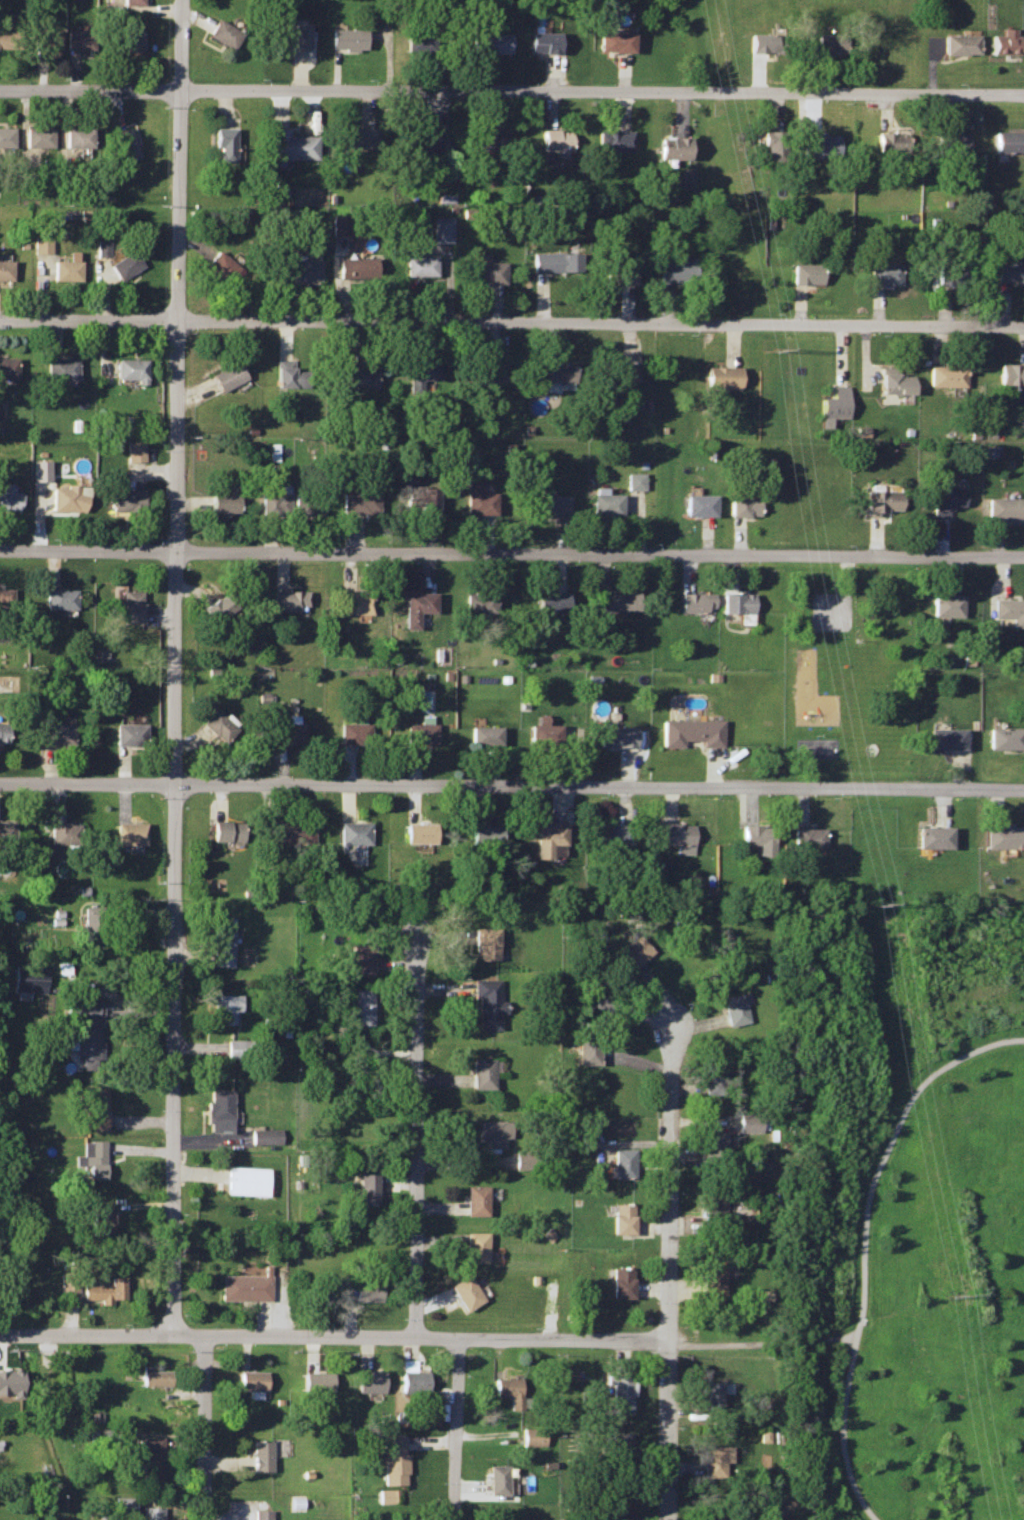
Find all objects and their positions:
building: (134, 2)
building: (1023, 6)
building: (225, 34)
building: (295, 35)
building: (10, 39)
building: (46, 39)
building: (79, 39)
building: (129, 39)
building: (349, 39)
building: (421, 40)
building: (546, 42)
building: (616, 42)
building: (1006, 42)
building: (492, 43)
building: (761, 43)
building: (830, 43)
building: (961, 45)
road: (512, 89)
building: (39, 136)
building: (79, 136)
building: (361, 136)
building: (6, 137)
building: (491, 137)
building: (425, 138)
building: (556, 140)
building: (616, 140)
building: (891, 140)
building: (1009, 140)
building: (125, 143)
building: (225, 143)
building: (952, 143)
building: (292, 145)
building: (773, 145)
building: (819, 145)
building: (674, 147)
building: (340, 224)
building: (442, 229)
building: (42, 245)
building: (102, 247)
building: (556, 262)
building: (126, 264)
building: (222, 264)
building: (421, 266)
building: (358, 267)
building: (68, 268)
building: (5, 269)
building: (1010, 269)
building: (305, 270)
building: (674, 271)
building: (488, 273)
building: (806, 273)
building: (621, 274)
building: (885, 274)
building: (951, 274)
road: (512, 317)
power tower: (763, 350)
building: (8, 368)
building: (62, 369)
building: (131, 369)
building: (489, 370)
building: (423, 371)
building: (622, 371)
building: (556, 372)
building: (1011, 374)
building: (946, 375)
building: (229, 376)
building: (722, 376)
building: (291, 377)
building: (359, 378)
building: (897, 383)
building: (835, 403)
building: (134, 451)
building: (41, 470)
building: (635, 480)
building: (9, 497)
building: (67, 498)
building: (125, 498)
building: (423, 498)
building: (361, 499)
building: (275, 500)
building: (948, 500)
building: (881, 501)
building: (225, 502)
building: (307, 502)
building: (608, 502)
building: (481, 503)
building: (554, 505)
building: (701, 505)
building: (745, 505)
building: (1007, 508)
road: (511, 551)
road: (846, 569)
building: (5, 599)
building: (59, 599)
building: (289, 599)
building: (616, 600)
building: (356, 601)
building: (420, 601)
building: (553, 602)
building: (737, 602)
building: (481, 603)
building: (696, 603)
building: (948, 605)
building: (132, 607)
parking lot: (831, 607)
building: (219, 608)
building: (1011, 609)
road: (169, 665)
park: (848, 667)
building: (221, 724)
building: (288, 731)
building: (357, 731)
building: (2, 732)
building: (692, 733)
building: (55, 734)
building: (130, 734)
building: (418, 734)
building: (488, 735)
building: (547, 736)
building: (620, 738)
building: (1007, 739)
building: (948, 740)
park: (816, 743)
road: (512, 782)
building: (227, 831)
building: (296, 831)
building: (6, 832)
building: (64, 833)
building: (421, 833)
building: (130, 834)
building: (354, 834)
building: (486, 834)
building: (619, 835)
building: (809, 837)
building: (1005, 837)
building: (936, 838)
building: (549, 839)
building: (758, 839)
building: (678, 840)
power tower: (866, 903)
building: (90, 925)
building: (222, 942)
building: (487, 944)
building: (634, 954)
building: (362, 959)
building: (29, 977)
building: (607, 995)
building: (490, 1003)
building: (361, 1008)
building: (224, 1009)
building: (735, 1009)
building: (88, 1029)
building: (238, 1048)
building: (588, 1048)
building: (482, 1073)
building: (715, 1079)
building: (95, 1107)
building: (220, 1108)
building: (749, 1124)
building: (491, 1133)
building: (266, 1134)
road: (415, 1135)
building: (713, 1149)
building: (94, 1155)
building: (522, 1158)
building: (623, 1163)
building: (247, 1180)
road: (668, 1181)
building: (367, 1188)
building: (475, 1200)
building: (713, 1215)
park: (907, 1215)
building: (100, 1217)
building: (623, 1217)
road: (863, 1243)
building: (476, 1247)
building: (713, 1279)
building: (623, 1282)
building: (67, 1286)
building: (243, 1286)
building: (107, 1290)
building: (369, 1290)
building: (466, 1291)
power tower: (944, 1295)
road: (85, 1332)
road: (419, 1336)
road: (680, 1340)
road: (773, 1341)
building: (155, 1377)
building: (414, 1379)
building: (251, 1381)
building: (317, 1381)
building: (370, 1381)
building: (10, 1383)
building: (511, 1391)
building: (622, 1391)
building: (712, 1394)
road: (202, 1426)
road: (454, 1428)
road: (667, 1429)
building: (111, 1433)
building: (535, 1436)
building: (617, 1450)
building: (260, 1455)
building: (149, 1458)
building: (392, 1459)
building: (715, 1460)
building: (499, 1479)
building: (388, 1495)
building: (121, 1504)
building: (149, 1513)
building: (261, 1514)
building: (497, 1515)
building: (621, 1516)
building: (712, 1517)

